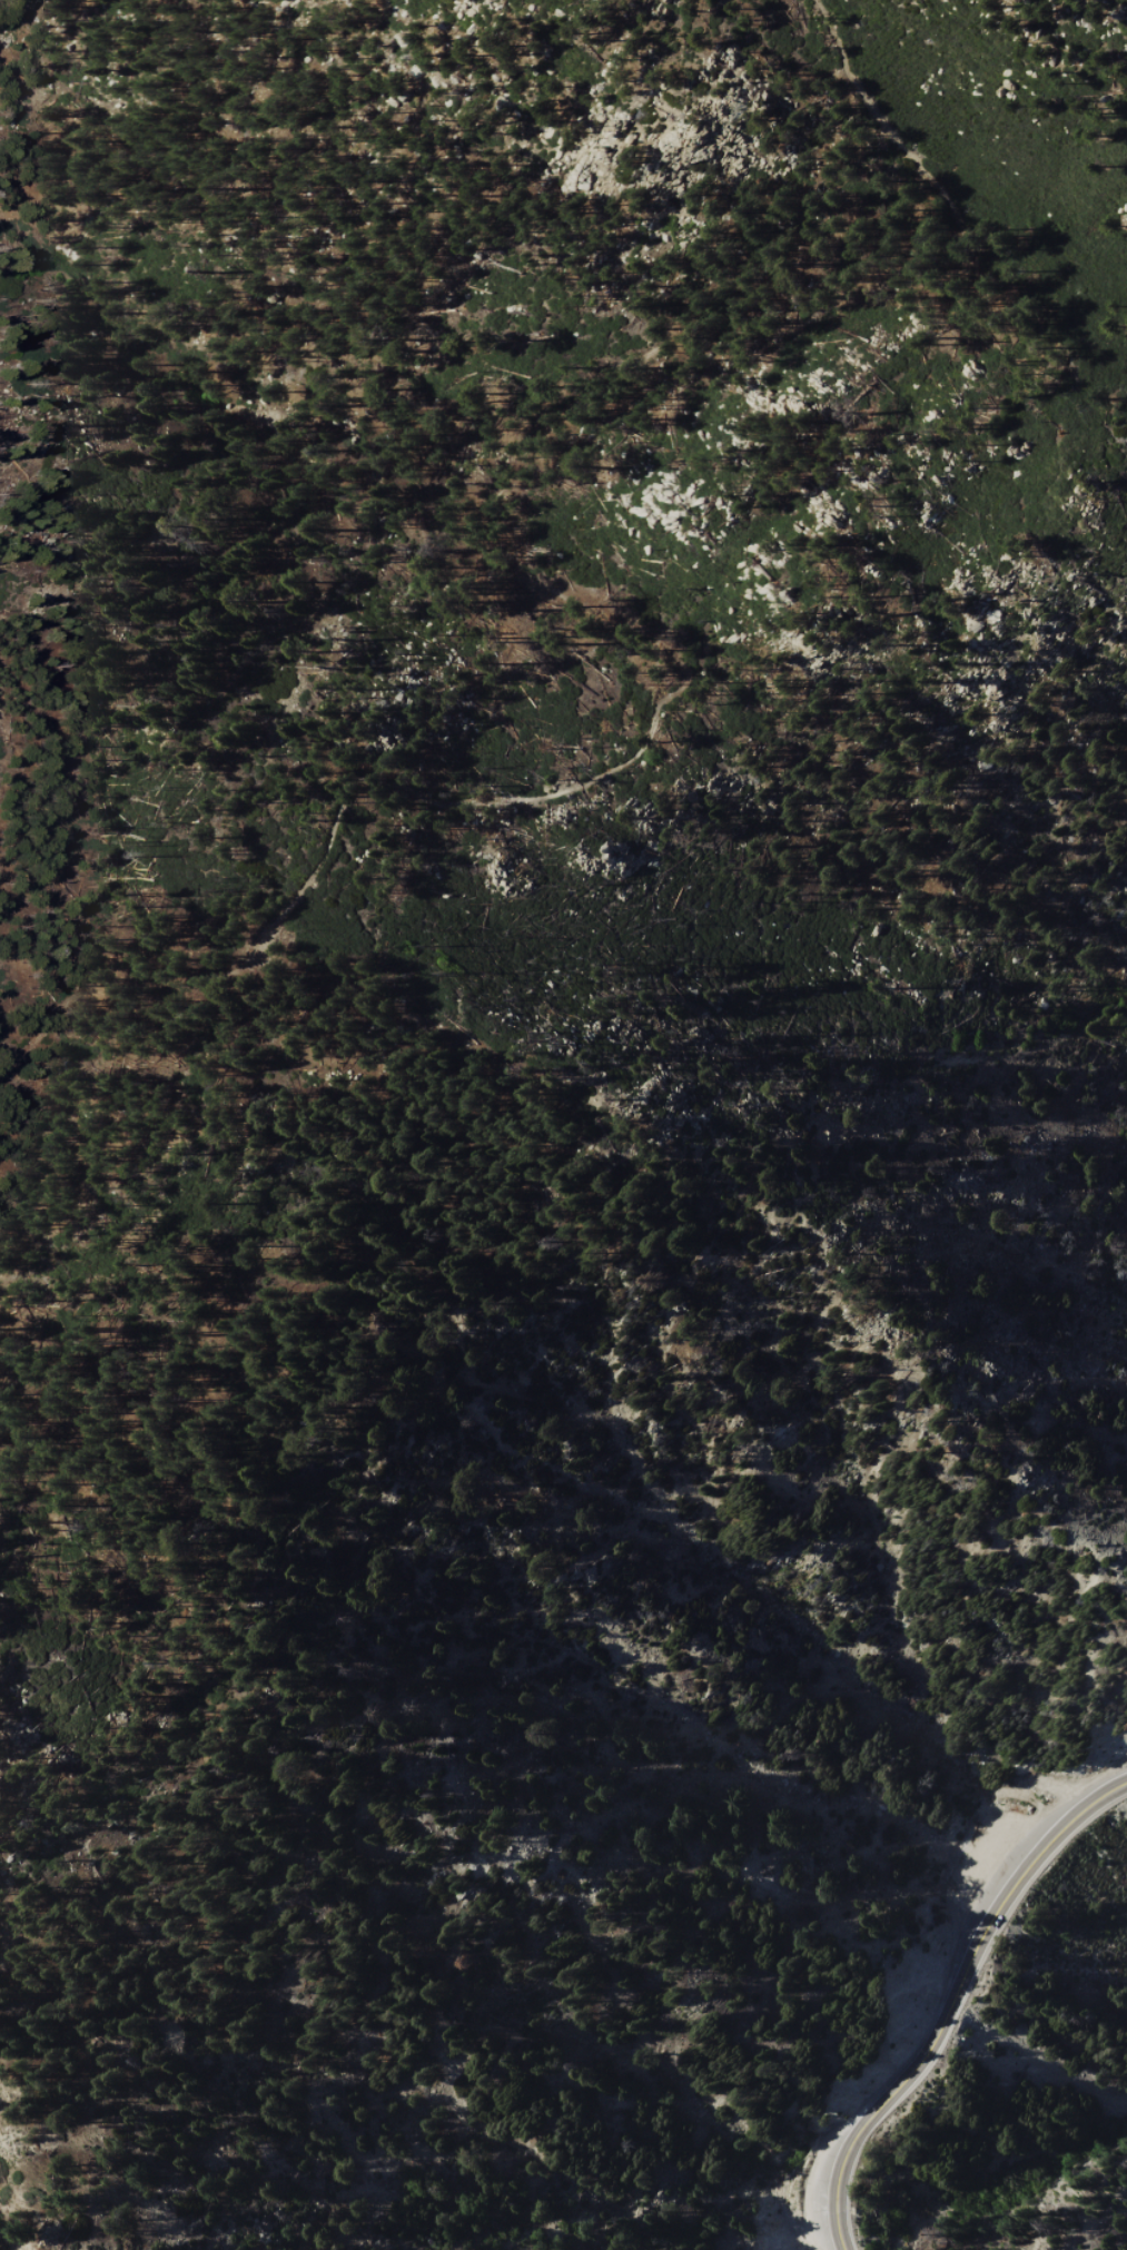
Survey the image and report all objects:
road: (585, 605)
road: (1091, 1803)
road: (996, 1901)
road: (913, 2062)
road: (833, 2184)

